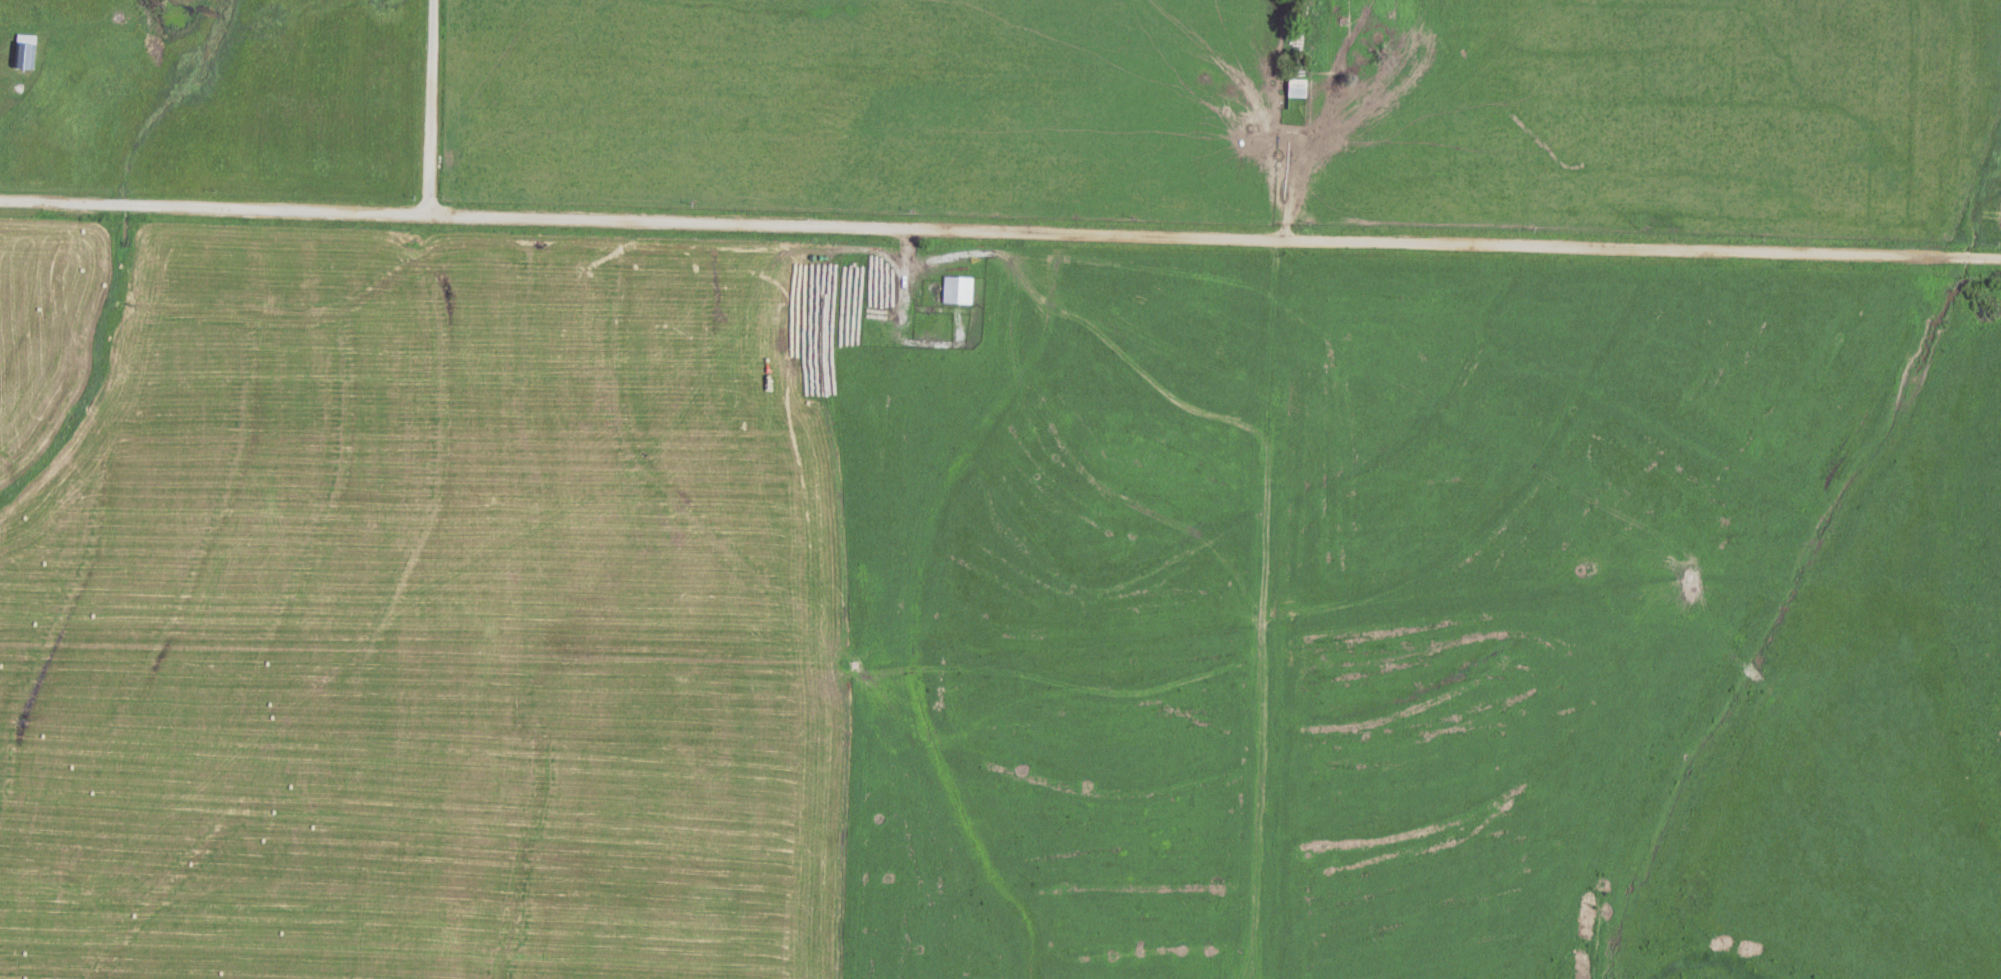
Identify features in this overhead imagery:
building: (26, 51)
building: (1297, 88)
road: (401, 114)
crop: (1984, 205)
road: (1000, 245)
building: (958, 290)
crop: (987, 613)

